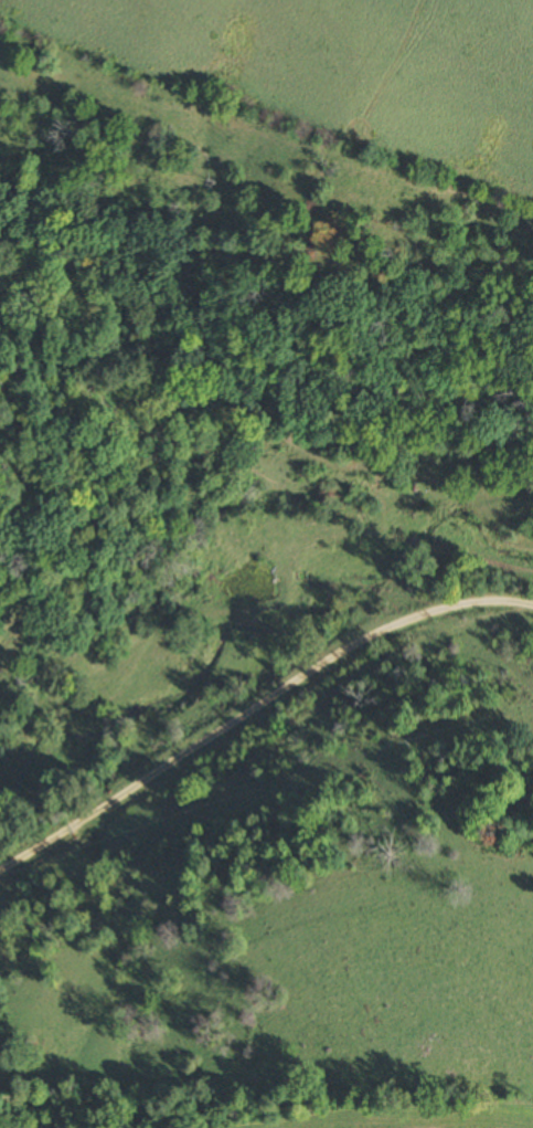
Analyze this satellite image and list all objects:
road: (255, 705)

